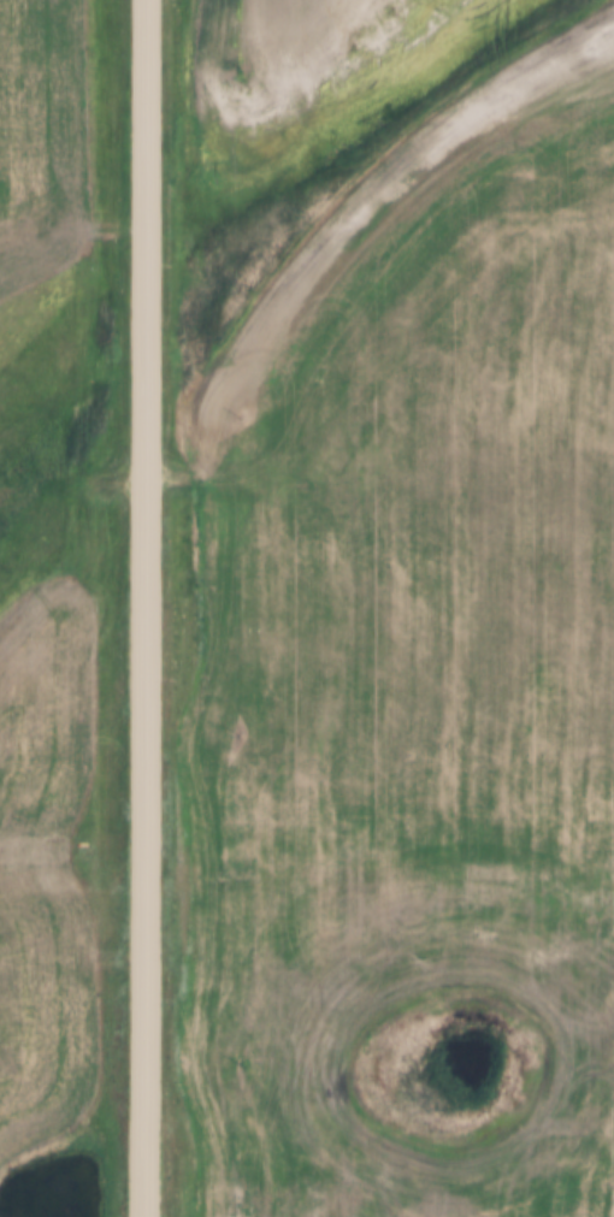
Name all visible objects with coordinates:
road: (143, 608)

